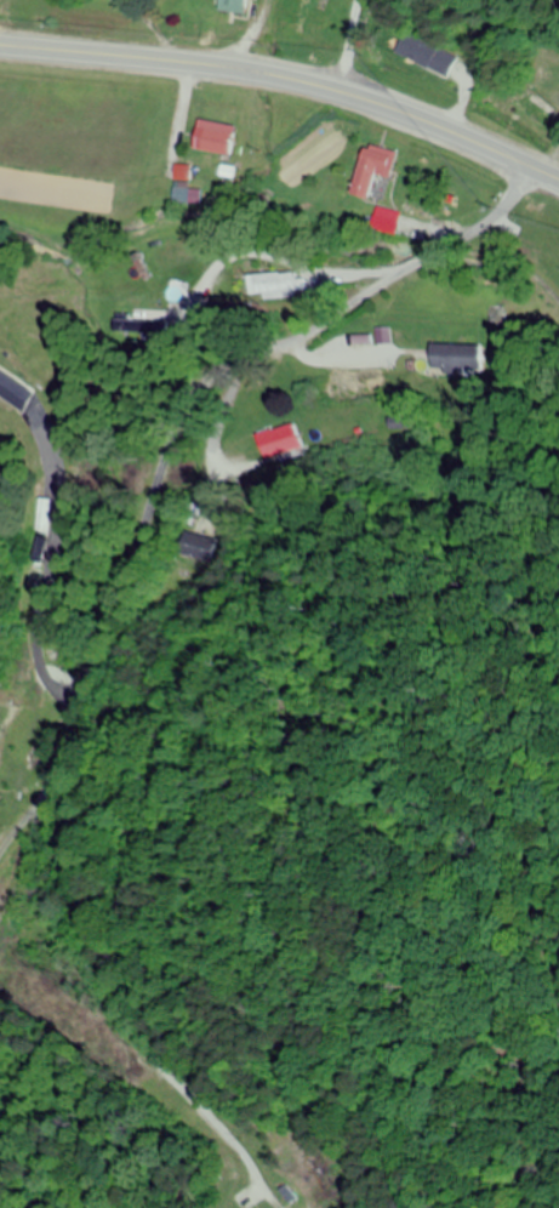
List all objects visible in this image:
building: (256, 0)
building: (236, 6)
building: (303, 17)
road: (346, 45)
building: (427, 56)
road: (287, 78)
building: (534, 115)
building: (217, 139)
building: (373, 167)
building: (274, 285)
road: (234, 320)
building: (139, 327)
building: (456, 357)
road: (177, 434)
building: (279, 443)
building: (194, 547)
road: (58, 603)

